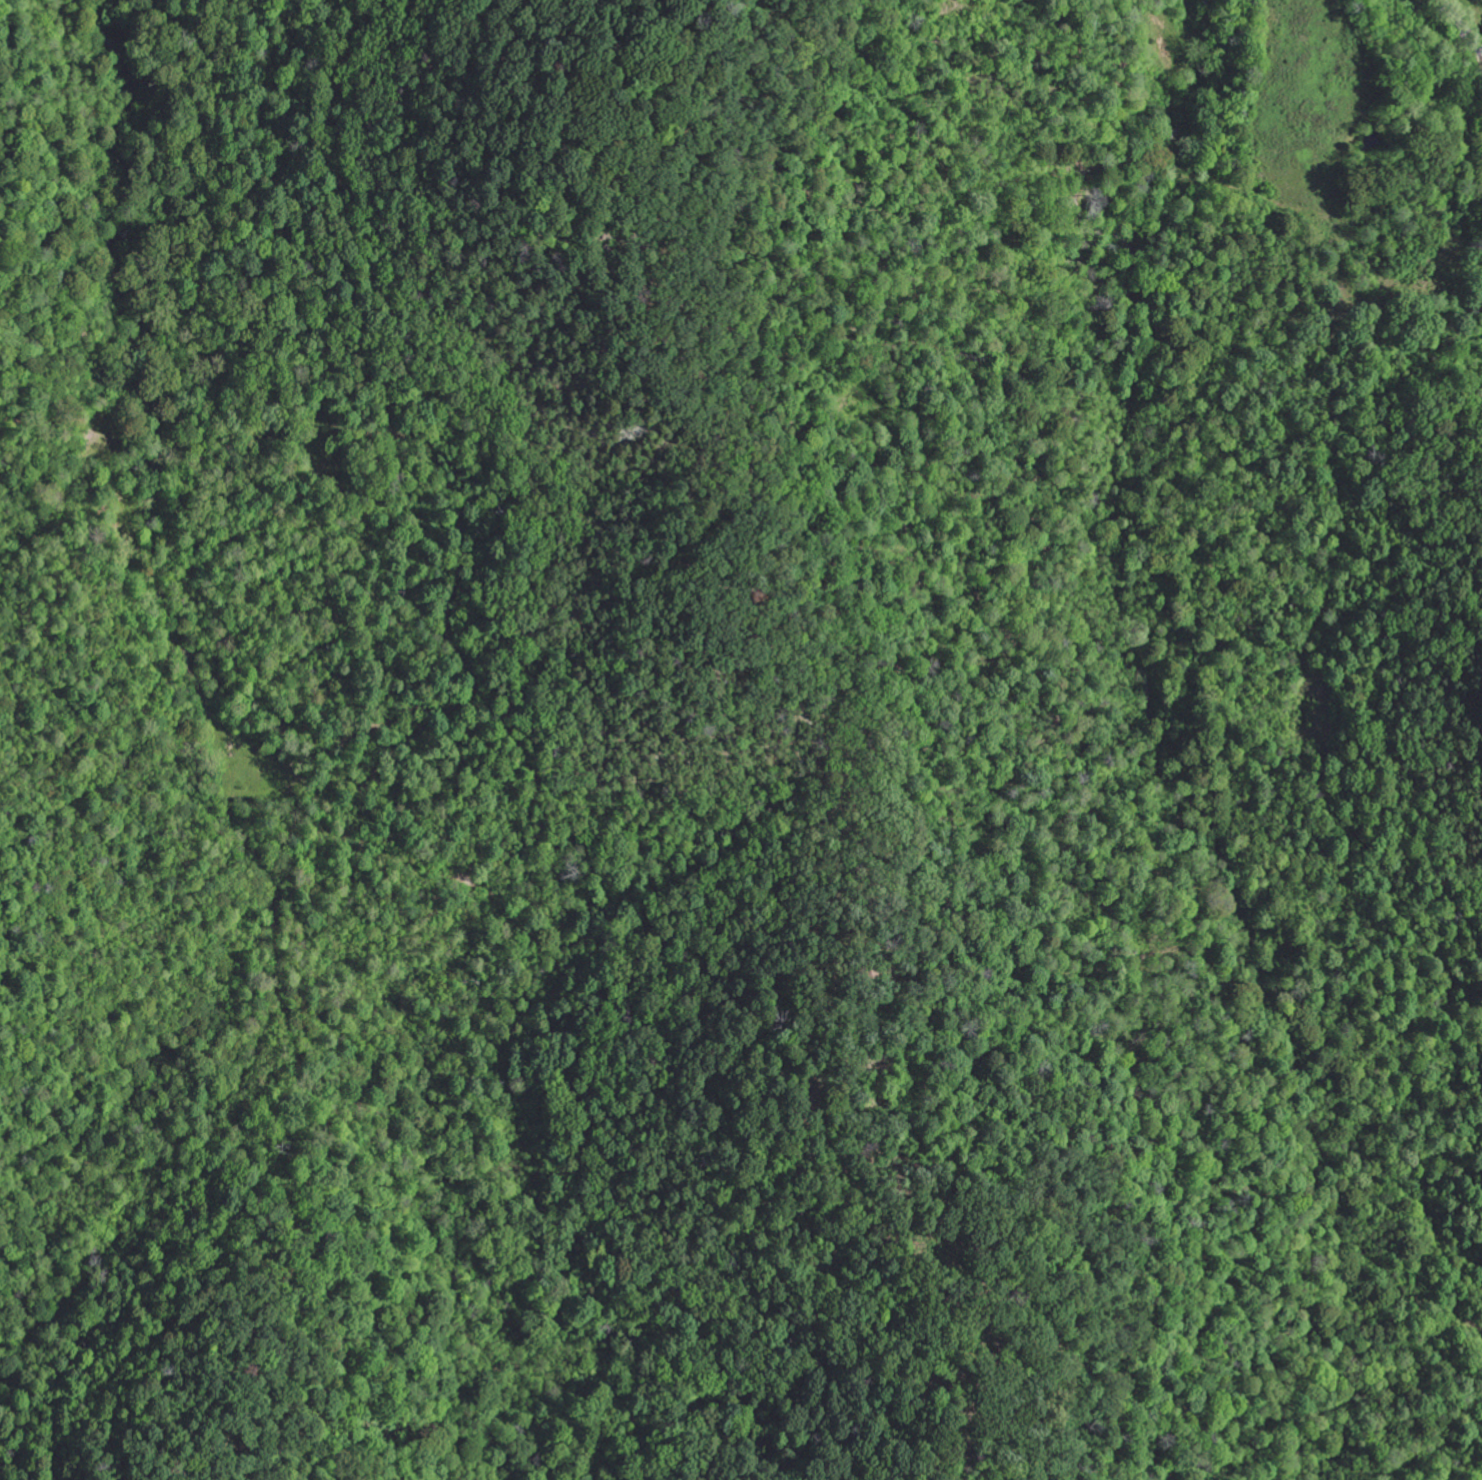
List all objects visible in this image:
road: (1464, 24)

